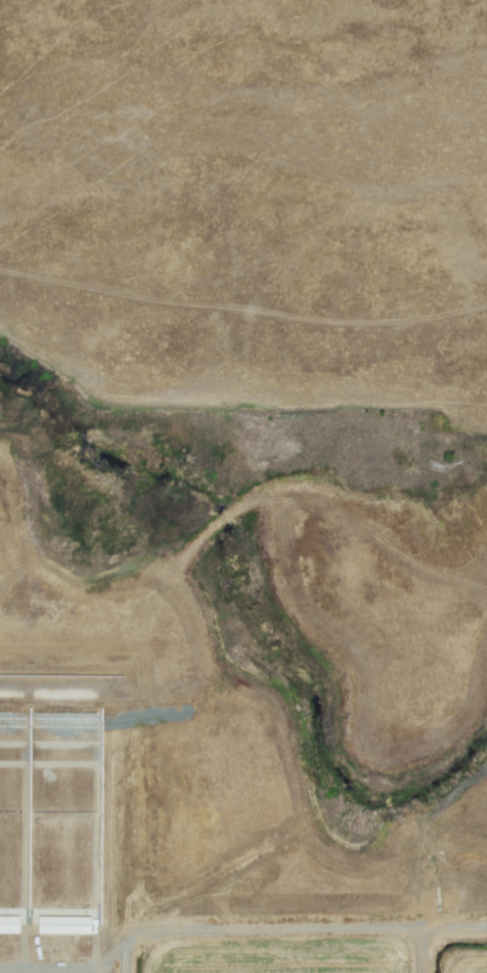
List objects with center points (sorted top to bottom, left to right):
road: (57, 703)
road: (126, 839)
building: (62, 923)
road: (306, 929)
road: (422, 950)
road: (104, 958)

